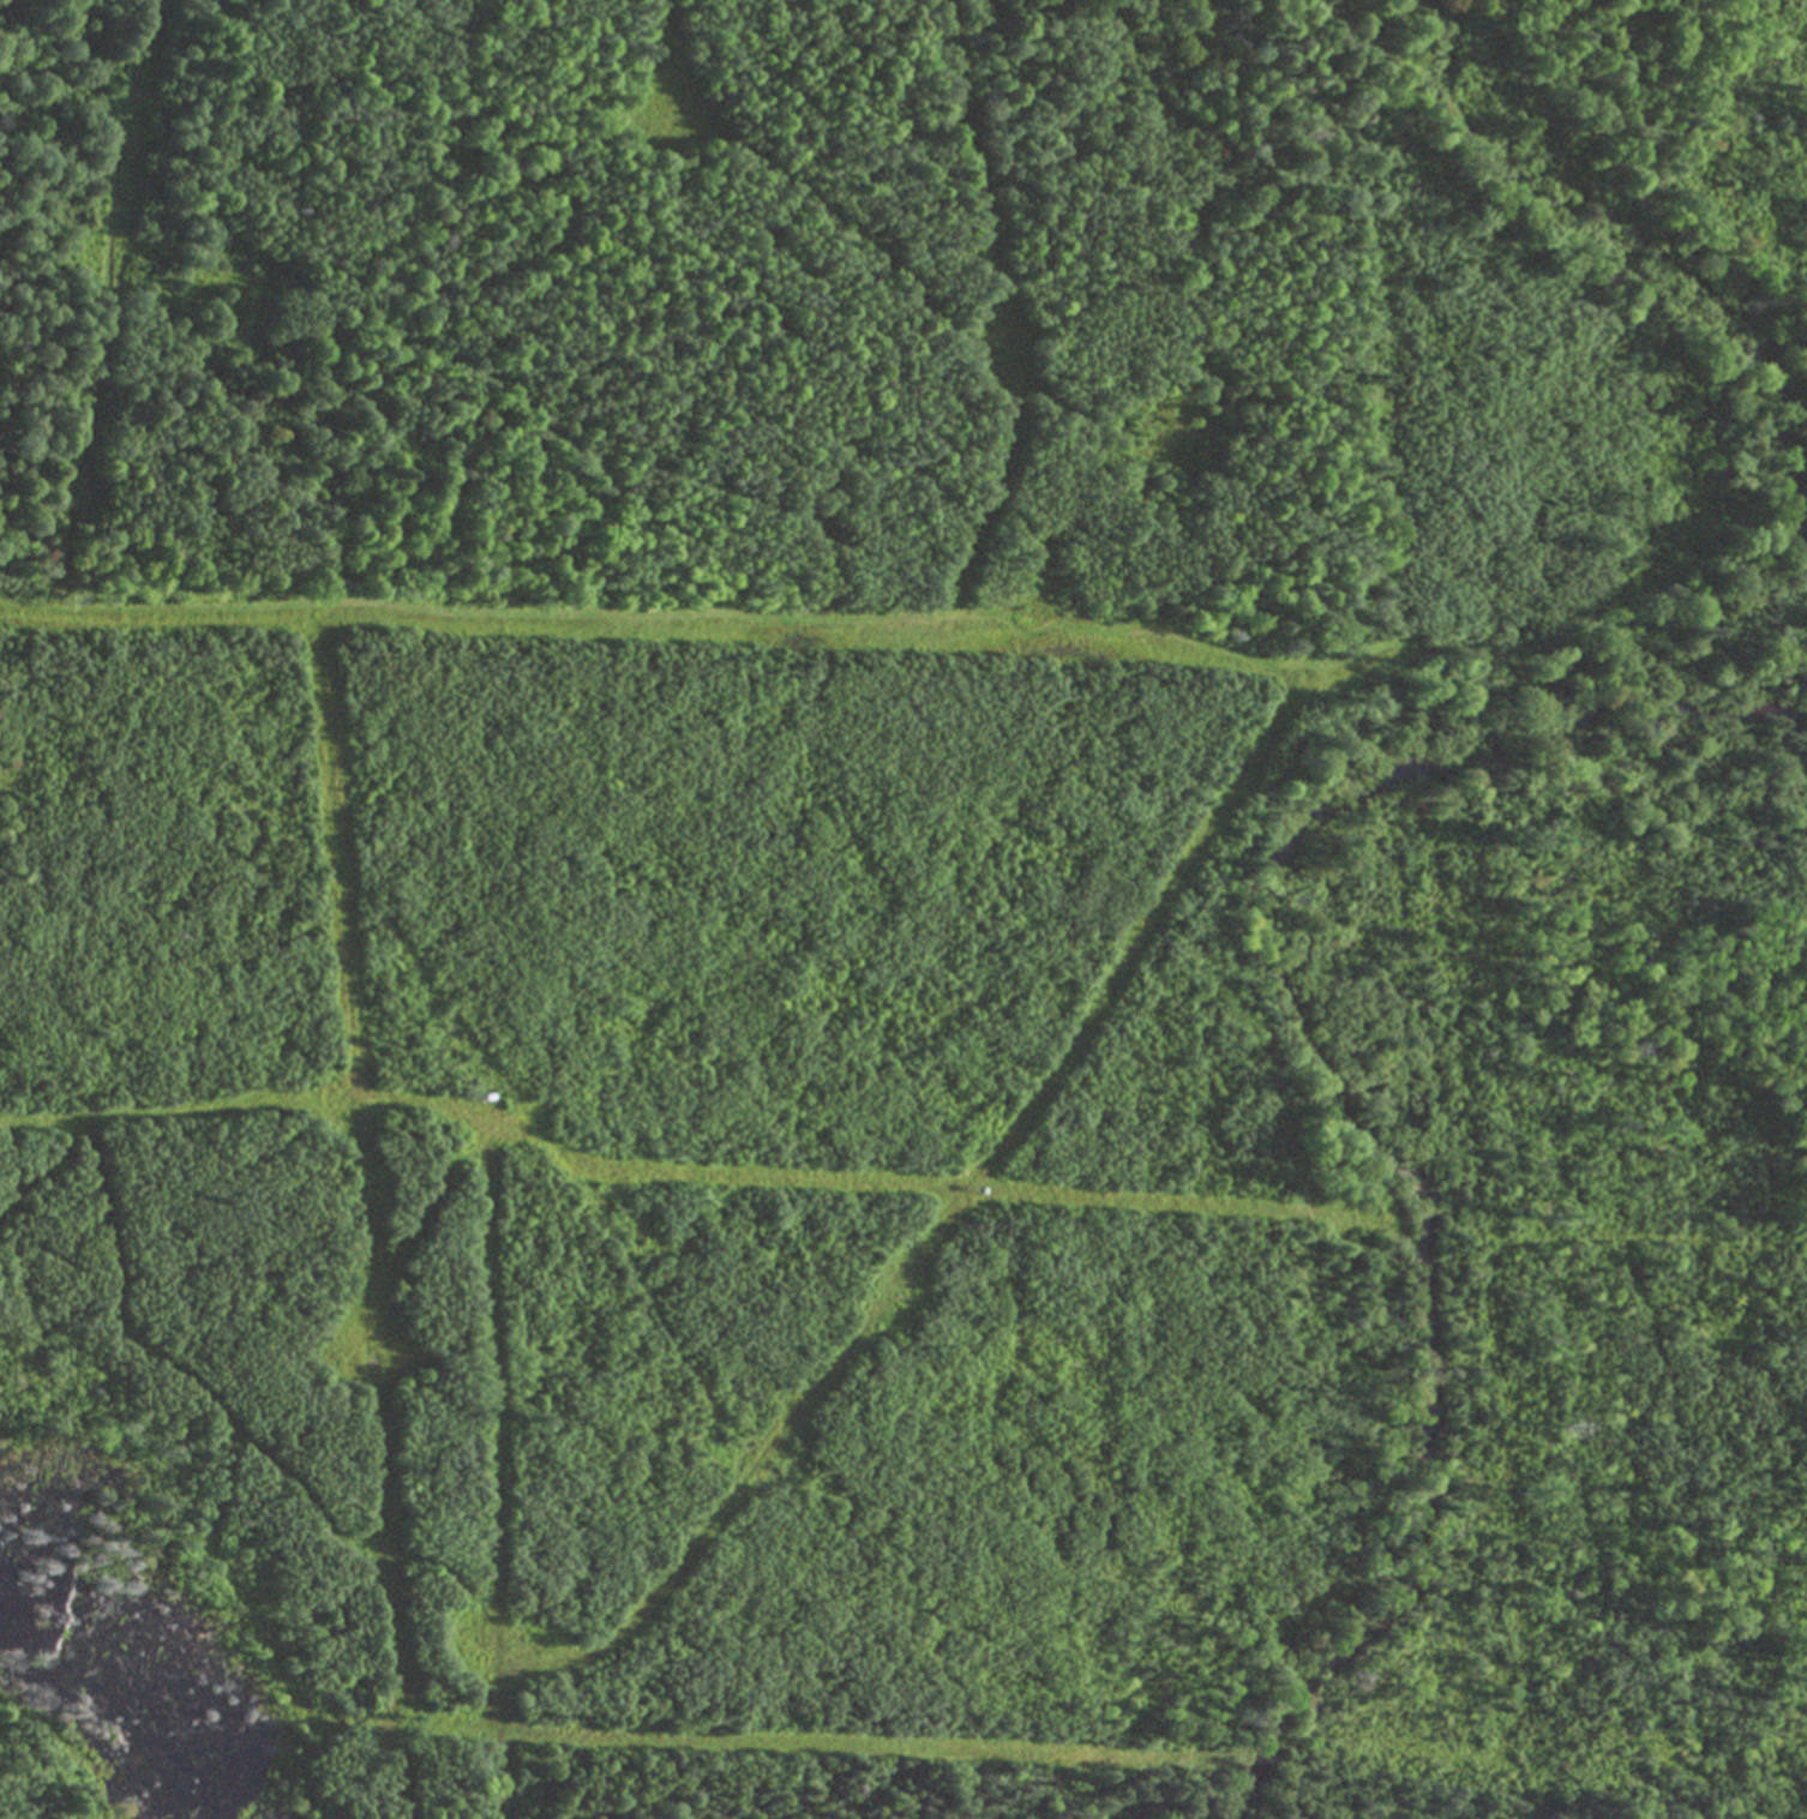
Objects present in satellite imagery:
road: (107, 236)
road: (941, 245)

